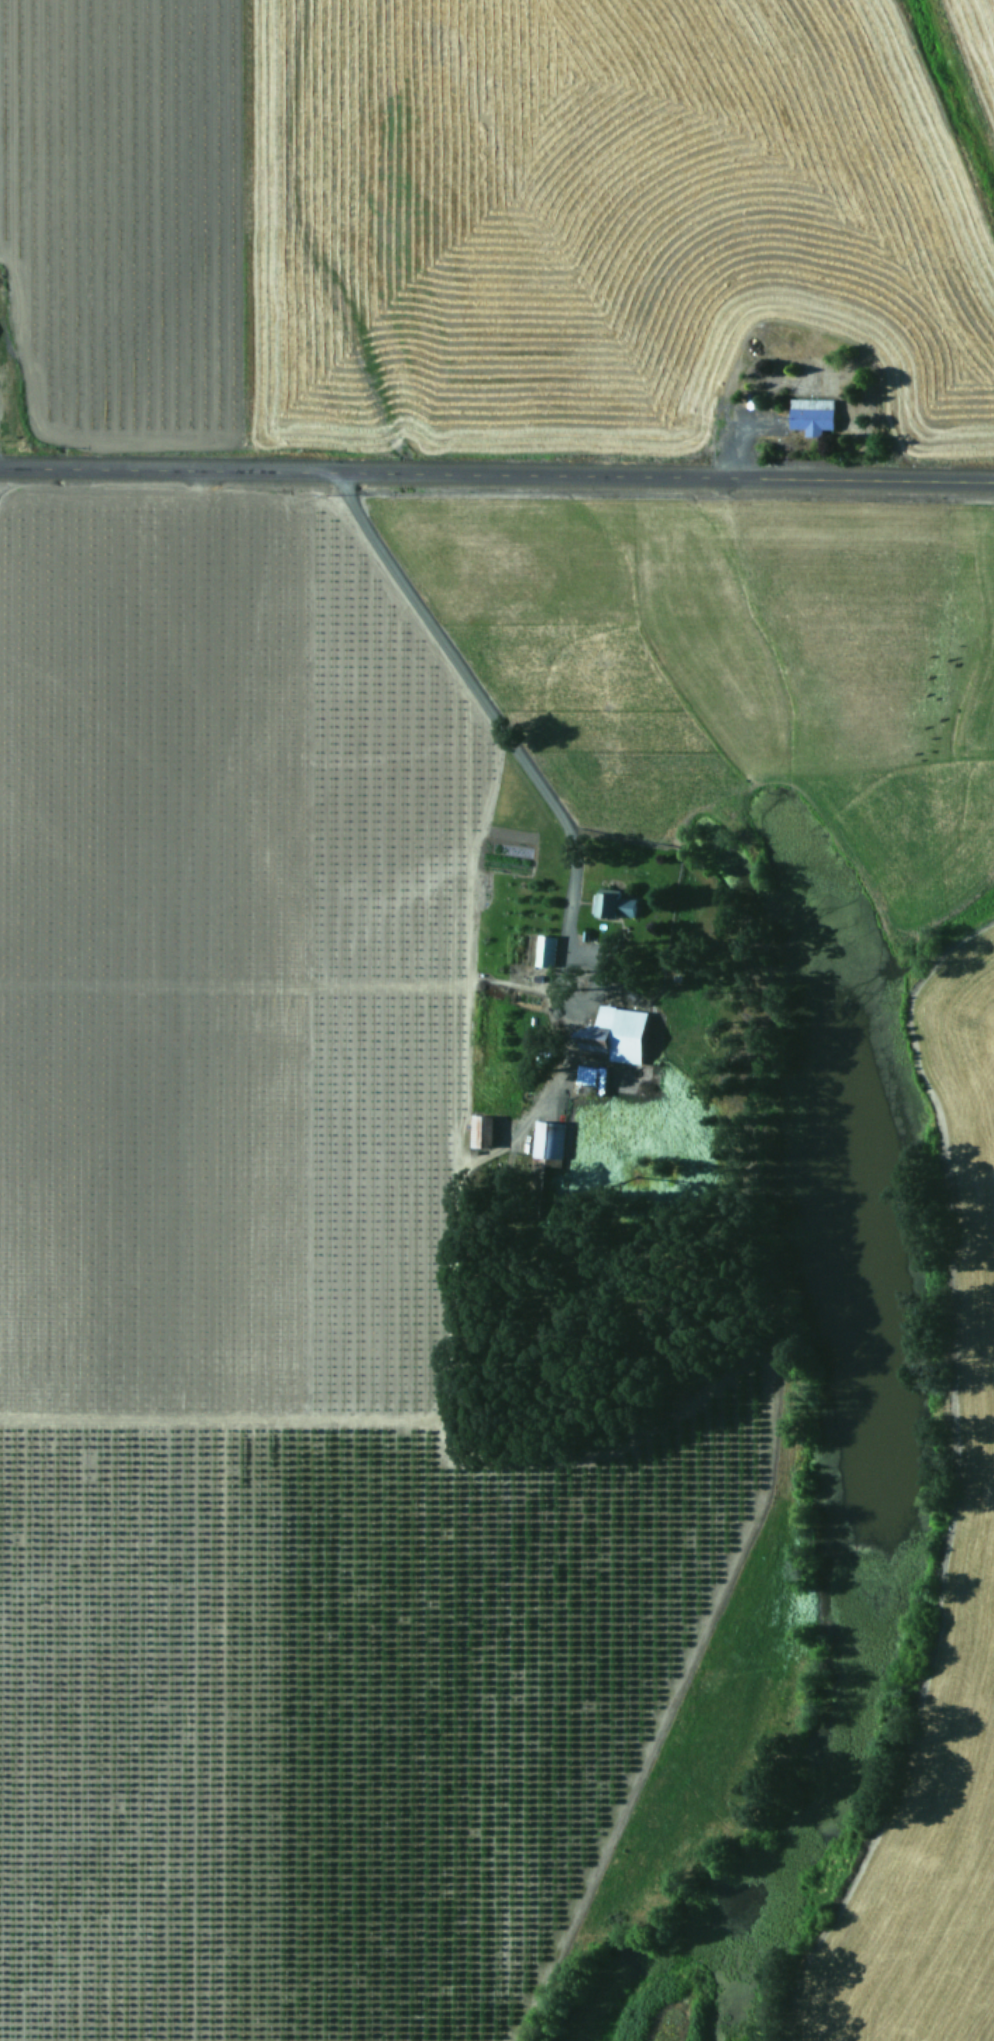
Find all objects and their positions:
crop: (499, 224)
building: (811, 415)
road: (496, 472)
road: (454, 672)
building: (613, 905)
building: (545, 950)
building: (582, 1075)
building: (481, 1130)
building: (548, 1139)
crop: (496, 1268)

